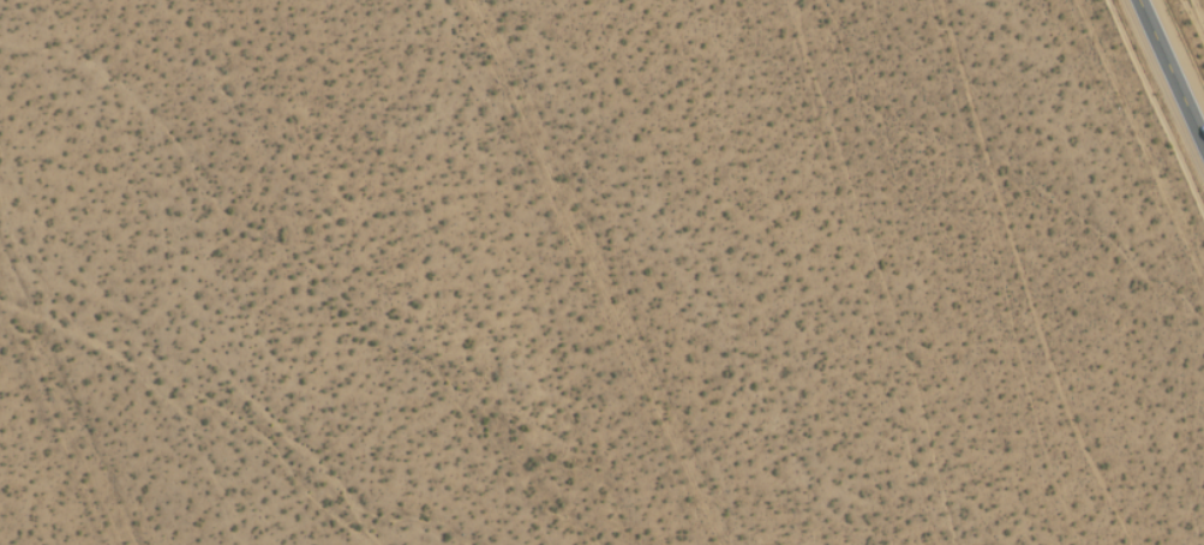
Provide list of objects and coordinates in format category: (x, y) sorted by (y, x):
road: (1170, 72)

